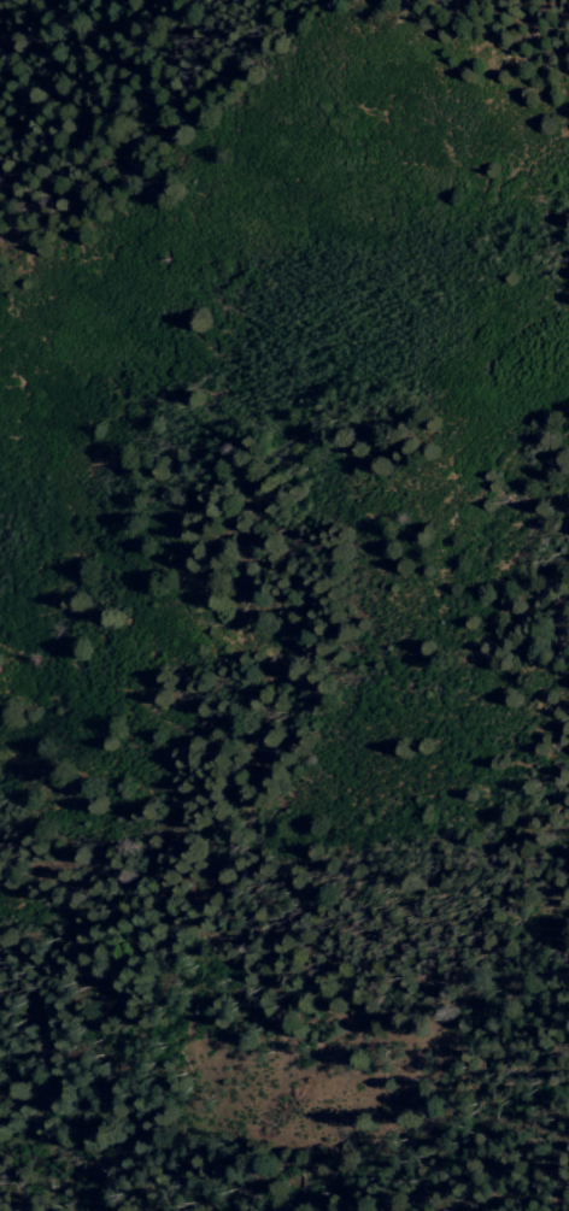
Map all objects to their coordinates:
road: (544, 1210)

